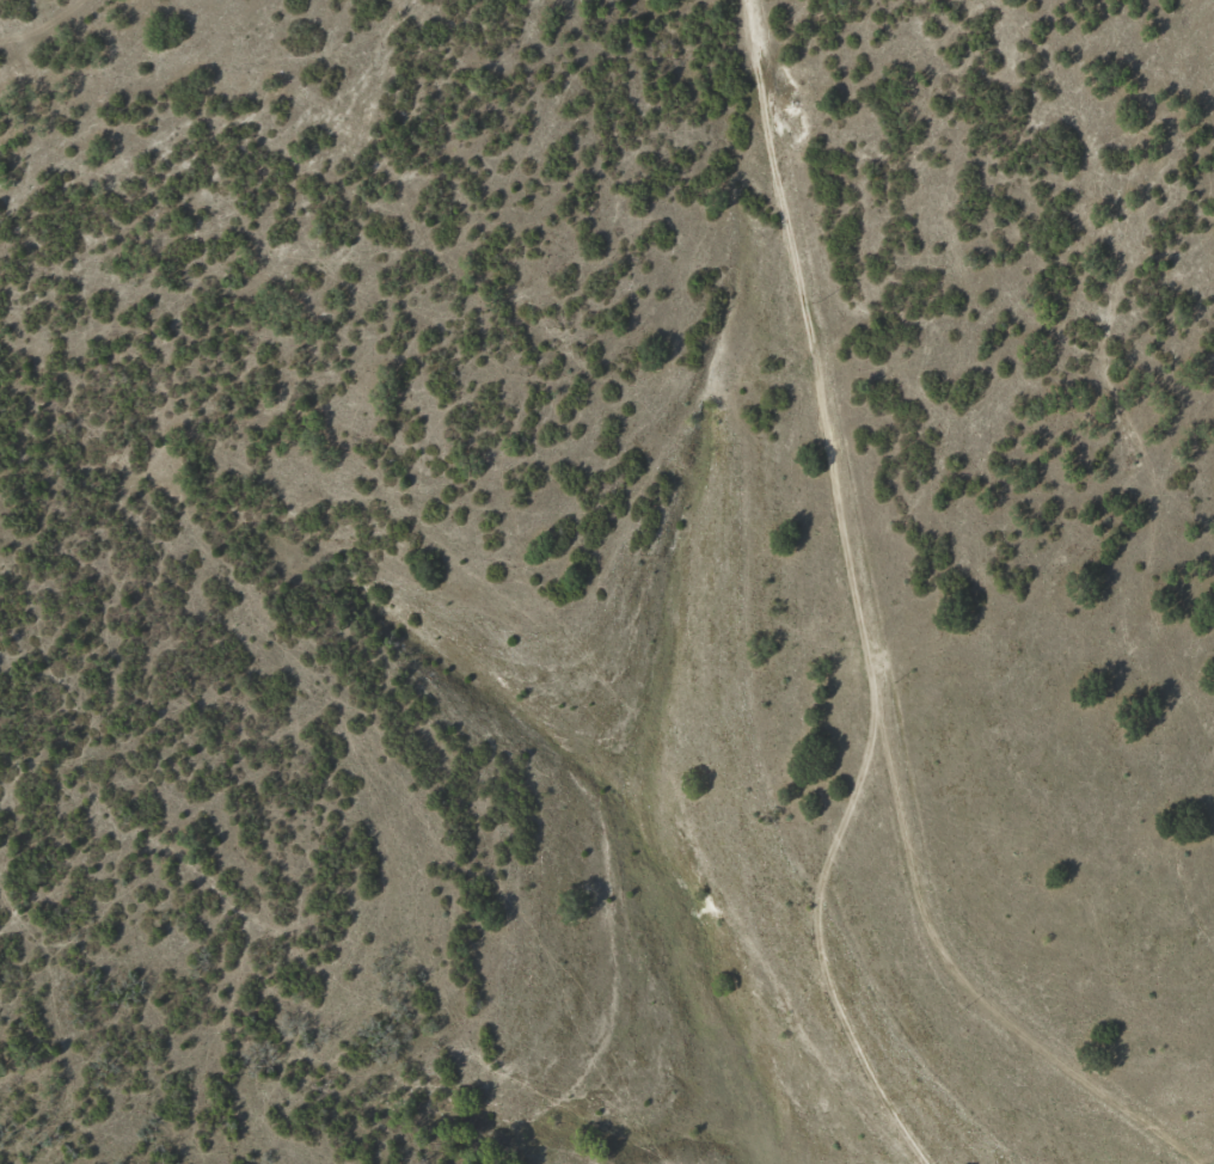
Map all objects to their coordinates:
road: (866, 632)

